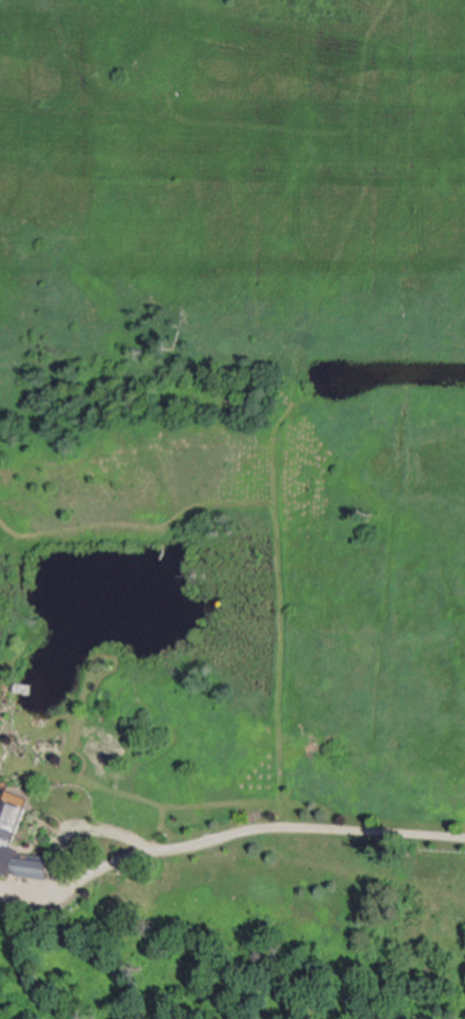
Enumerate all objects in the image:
building: (9, 827)
road: (228, 830)

